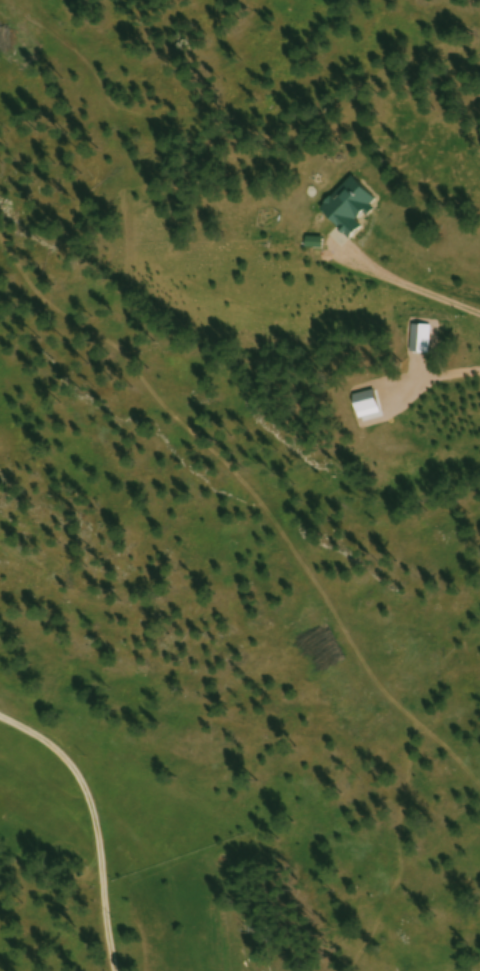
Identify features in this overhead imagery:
building: (351, 209)

